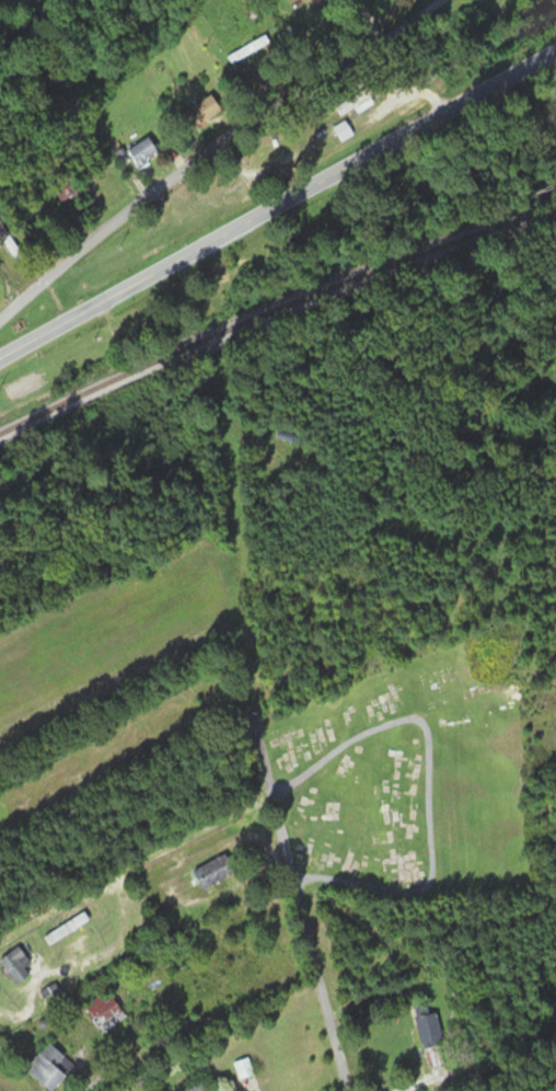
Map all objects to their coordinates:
road: (313, 30)
building: (248, 49)
building: (202, 111)
building: (343, 130)
road: (212, 149)
building: (142, 152)
road: (333, 174)
building: (67, 192)
building: (312, 233)
building: (8, 241)
road: (9, 280)
railway: (273, 310)
road: (55, 326)
road: (280, 370)
building: (151, 458)
road: (391, 543)
road: (259, 744)
park: (413, 785)
building: (212, 872)
building: (66, 929)
building: (15, 965)
building: (104, 1012)
road: (450, 1014)
building: (428, 1030)
building: (48, 1068)
building: (204, 1088)

